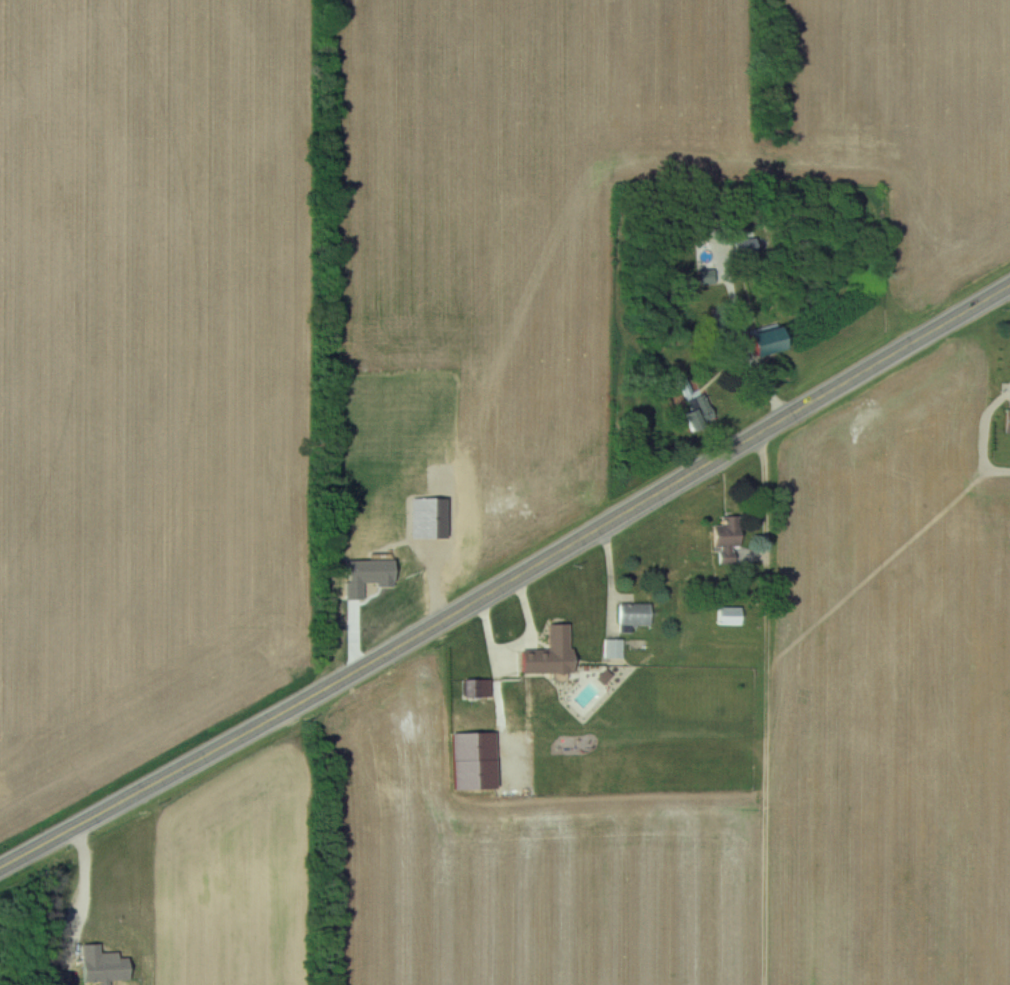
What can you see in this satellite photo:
building: (746, 246)
building: (709, 277)
building: (734, 338)
building: (771, 340)
building: (699, 413)
building: (1009, 422)
road: (986, 433)
road: (762, 498)
building: (728, 539)
road: (507, 580)
building: (636, 614)
building: (731, 616)
building: (560, 636)
building: (614, 648)
building: (586, 678)
building: (511, 686)
building: (478, 688)
building: (407, 696)
building: (451, 731)
road: (85, 882)

